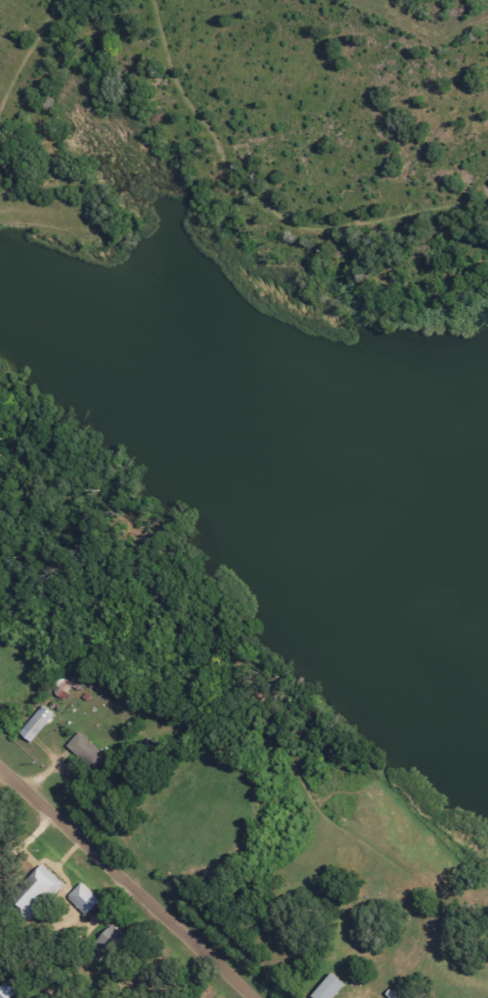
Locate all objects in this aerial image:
building: (60, 686)
building: (31, 726)
building: (83, 753)
building: (40, 874)
road: (130, 881)
park: (319, 893)
building: (79, 899)
building: (105, 942)
building: (324, 988)

